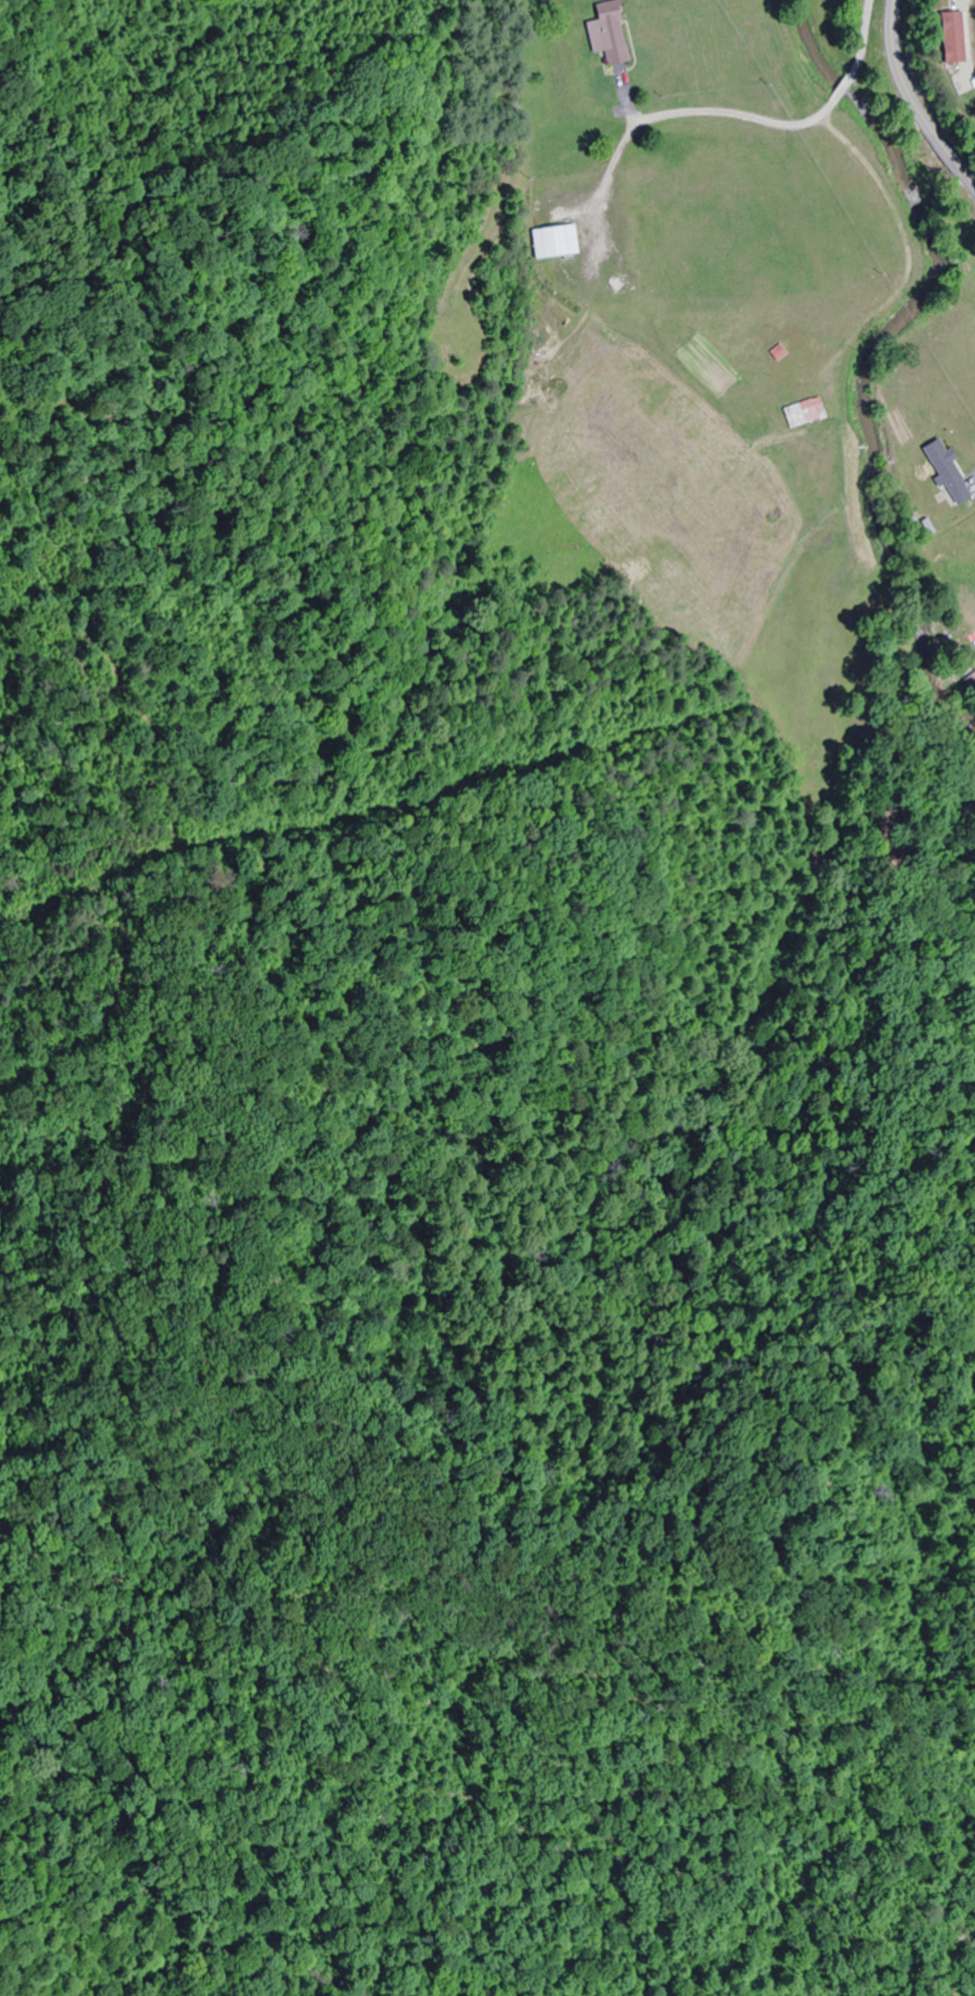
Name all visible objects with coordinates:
building: (606, 33)
building: (947, 37)
road: (913, 102)
building: (552, 241)
building: (803, 413)
building: (945, 471)
building: (970, 687)

